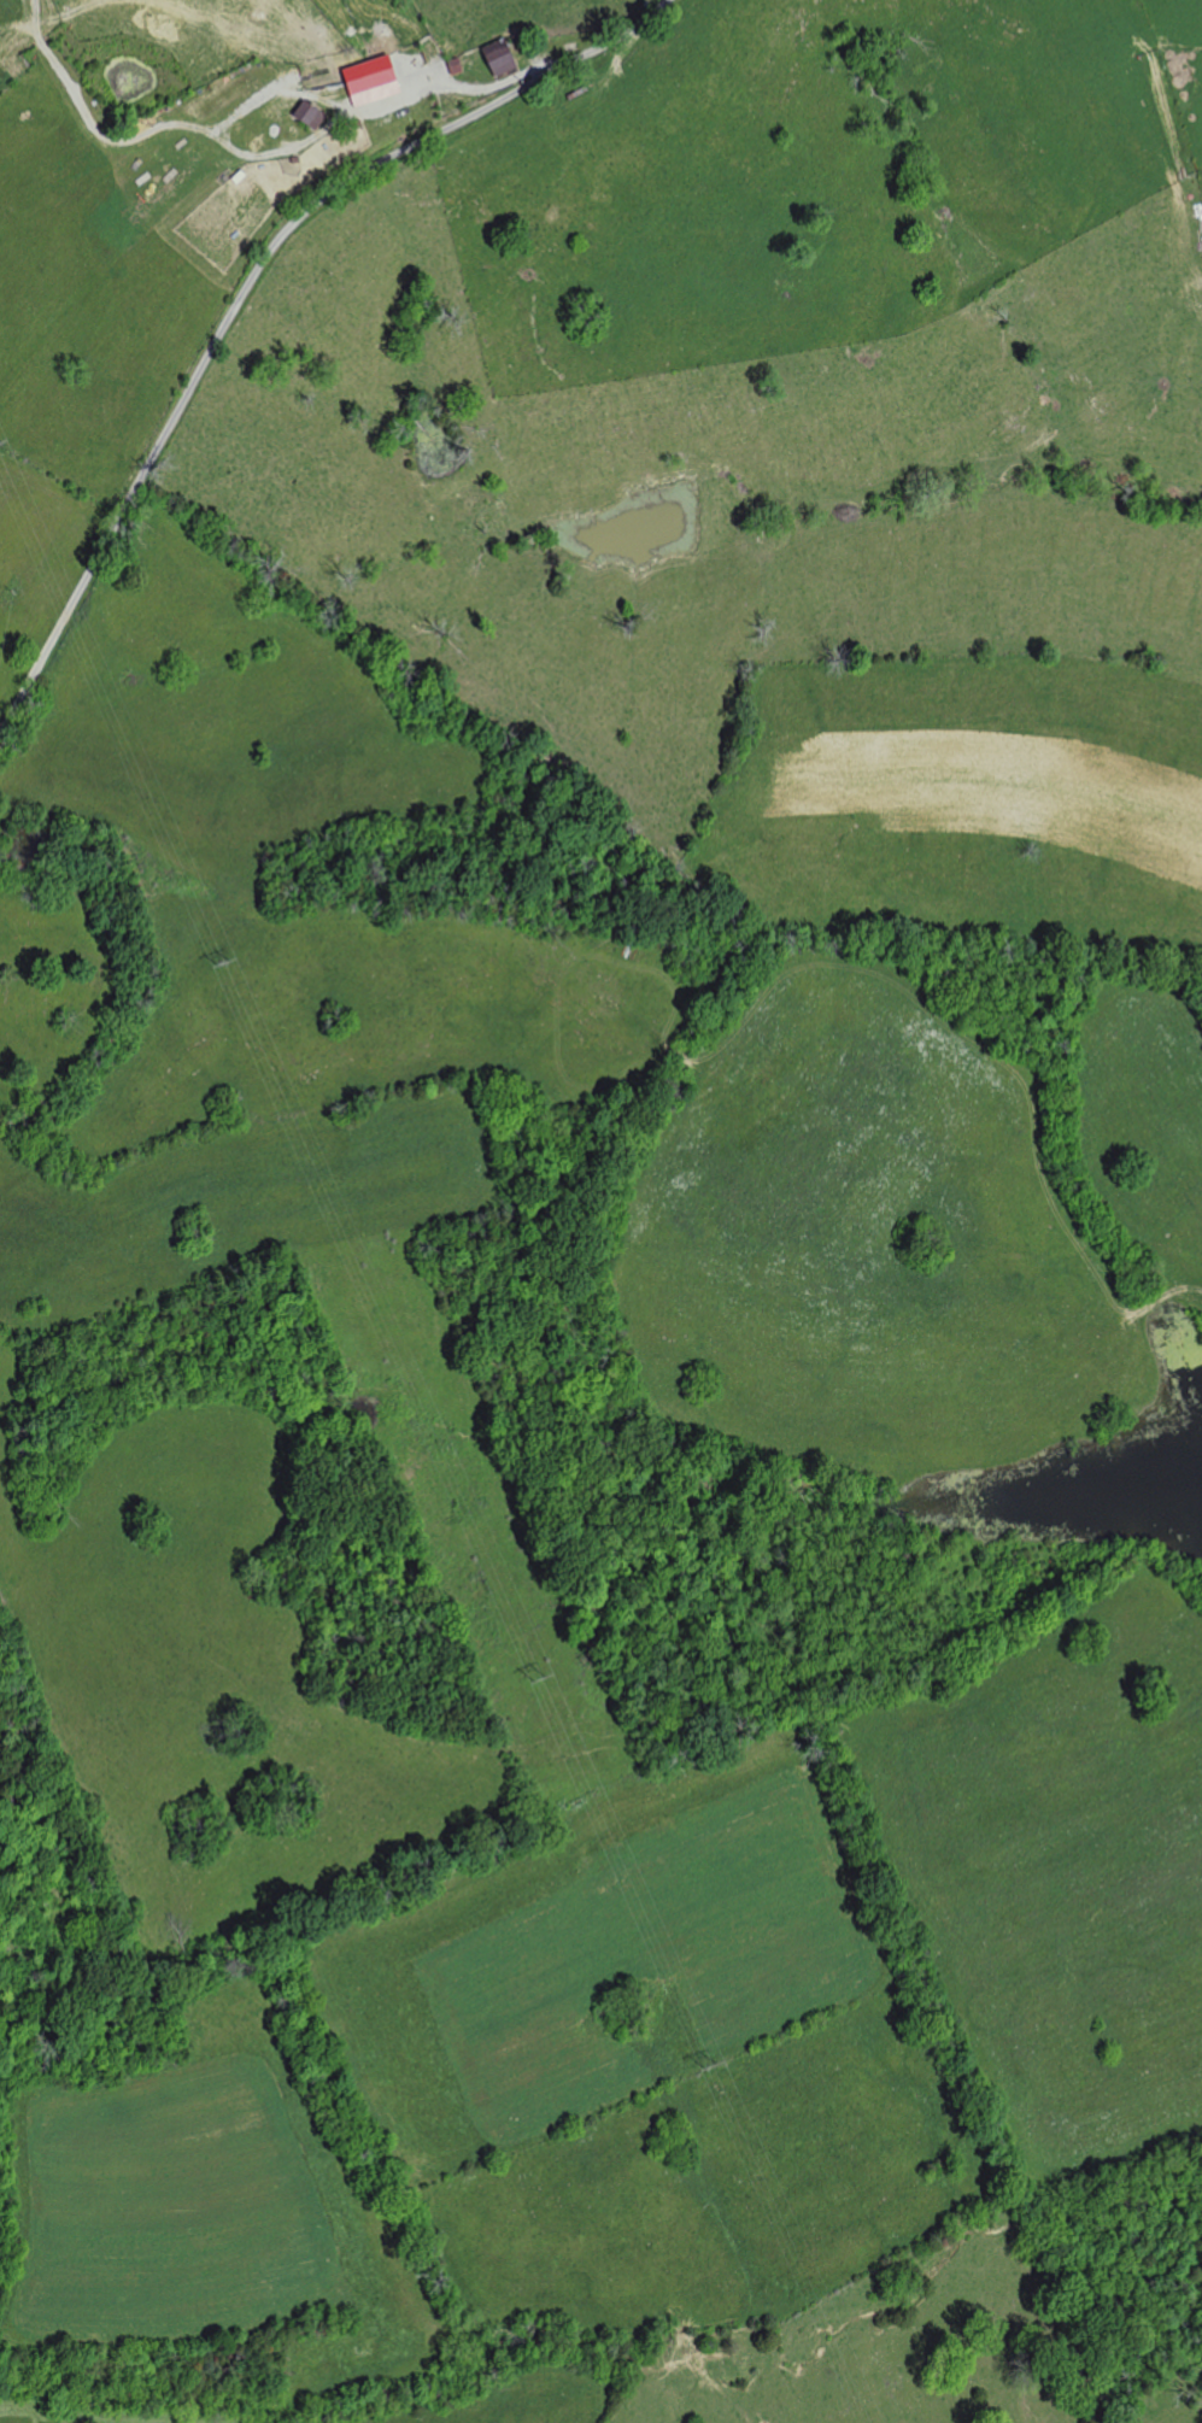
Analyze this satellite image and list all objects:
building: (505, 57)
building: (377, 81)
road: (477, 84)
building: (315, 115)
road: (250, 286)
power tower: (218, 960)
power tower: (541, 1689)
power tower: (706, 2066)

